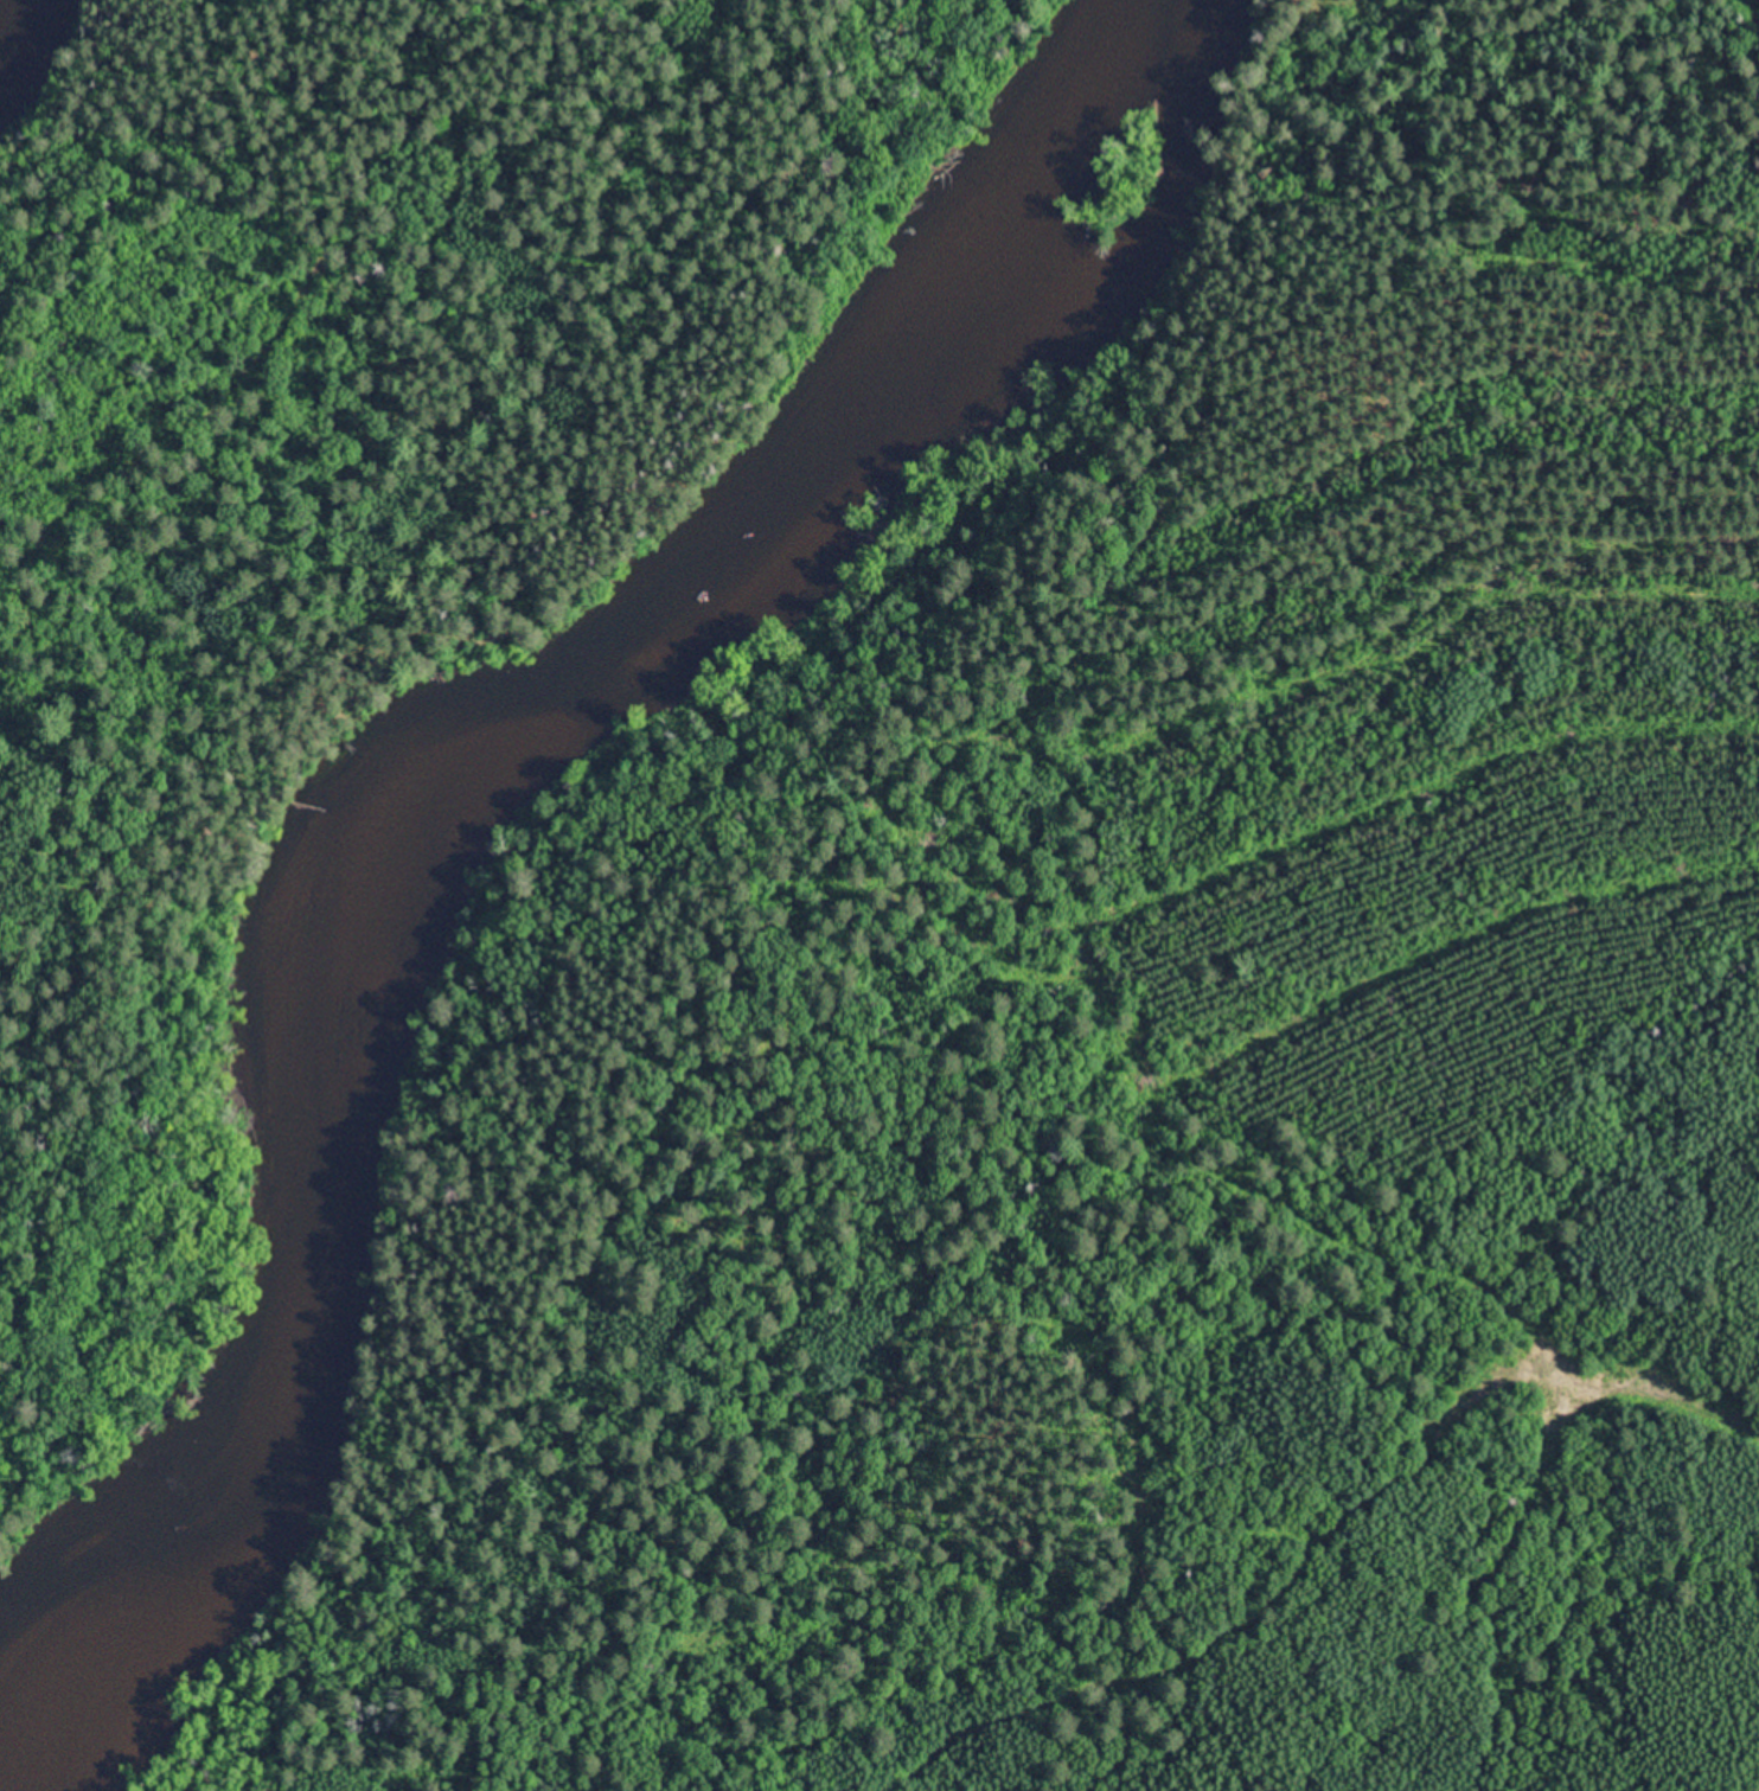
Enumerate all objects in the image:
river: (410, 766)

